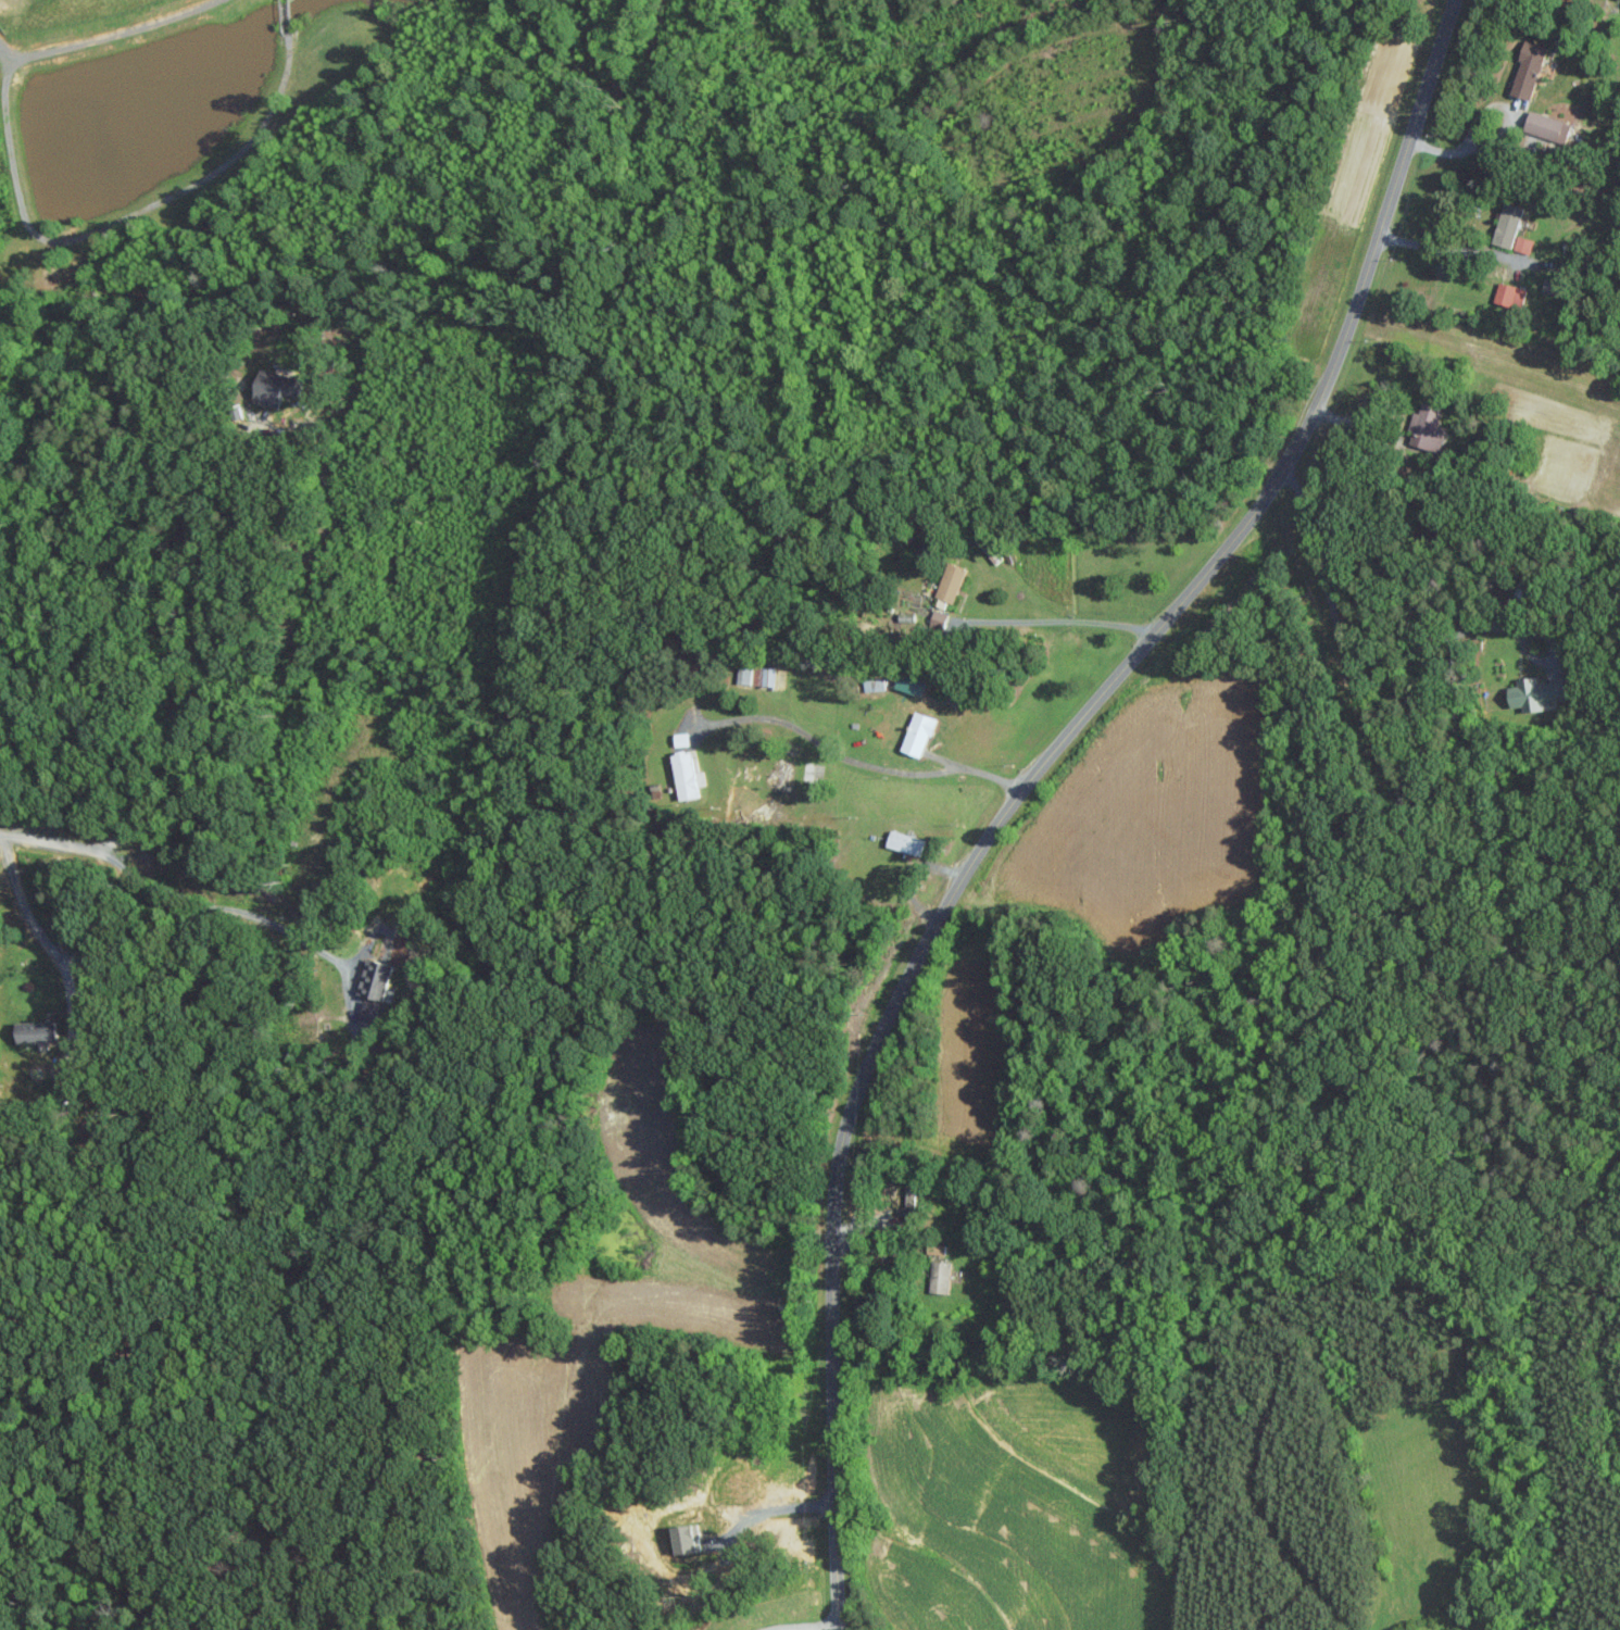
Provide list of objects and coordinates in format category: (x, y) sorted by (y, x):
road: (105, 34)
building: (1530, 70)
building: (1545, 125)
road: (1498, 133)
building: (1508, 225)
road: (1458, 241)
building: (1523, 244)
building: (1553, 285)
building: (1510, 296)
building: (272, 389)
building: (1427, 428)
building: (952, 581)
building: (939, 618)
road: (1059, 620)
road: (178, 643)
road: (1348, 647)
building: (745, 674)
building: (773, 676)
building: (1536, 692)
building: (919, 732)
road: (864, 763)
building: (687, 775)
road: (1038, 782)
building: (905, 842)
road: (49, 845)
road: (236, 910)
road: (43, 937)
building: (375, 978)
building: (368, 1011)
building: (37, 1031)
building: (937, 1247)
building: (941, 1277)
road: (787, 1629)

